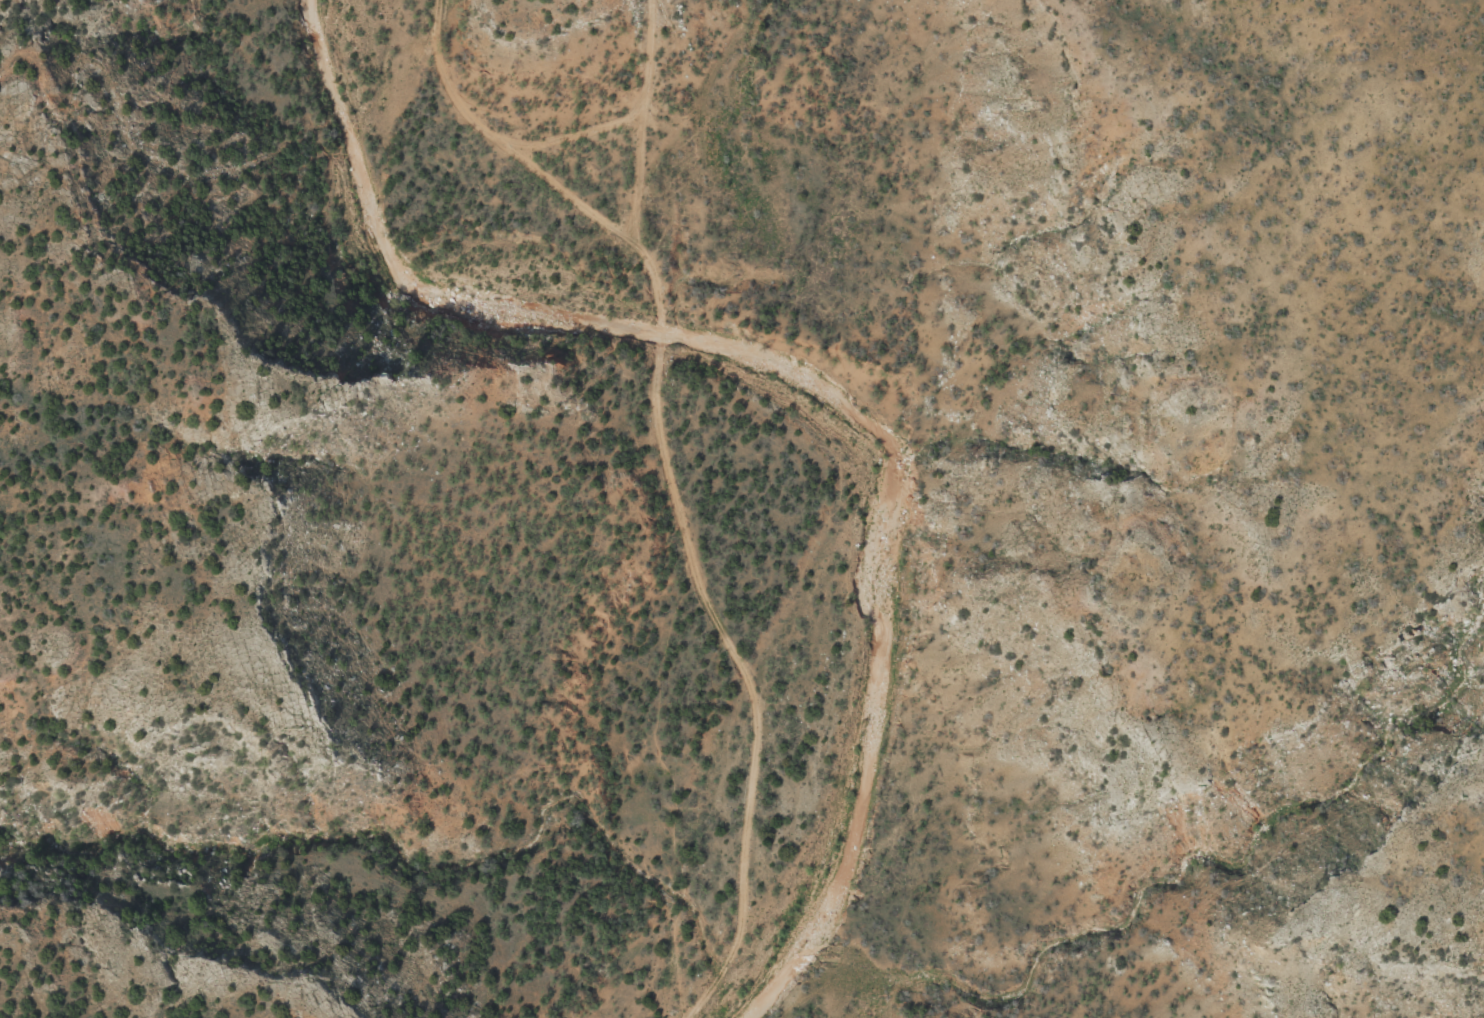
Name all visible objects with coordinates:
road: (435, 248)
road: (647, 478)

